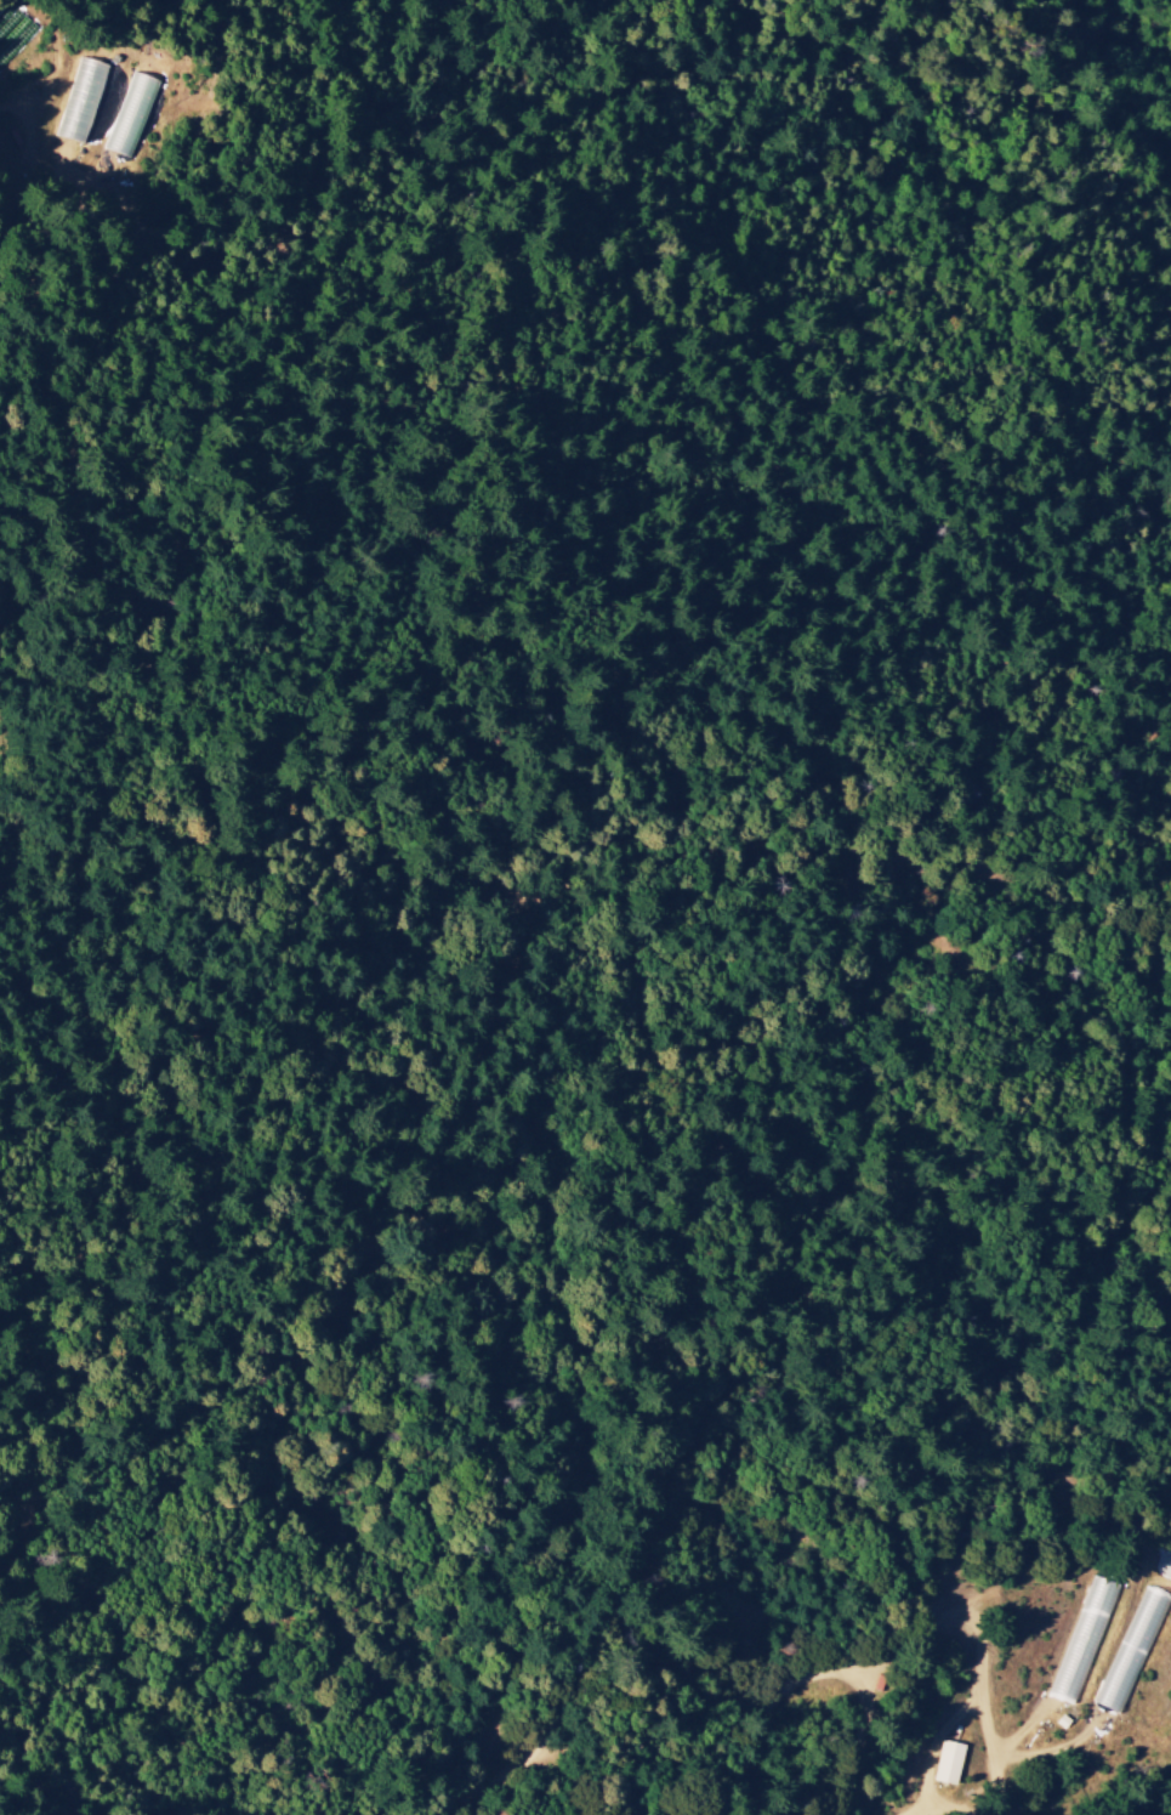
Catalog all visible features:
road: (24, 188)
building: (1079, 1647)
building: (948, 1763)

